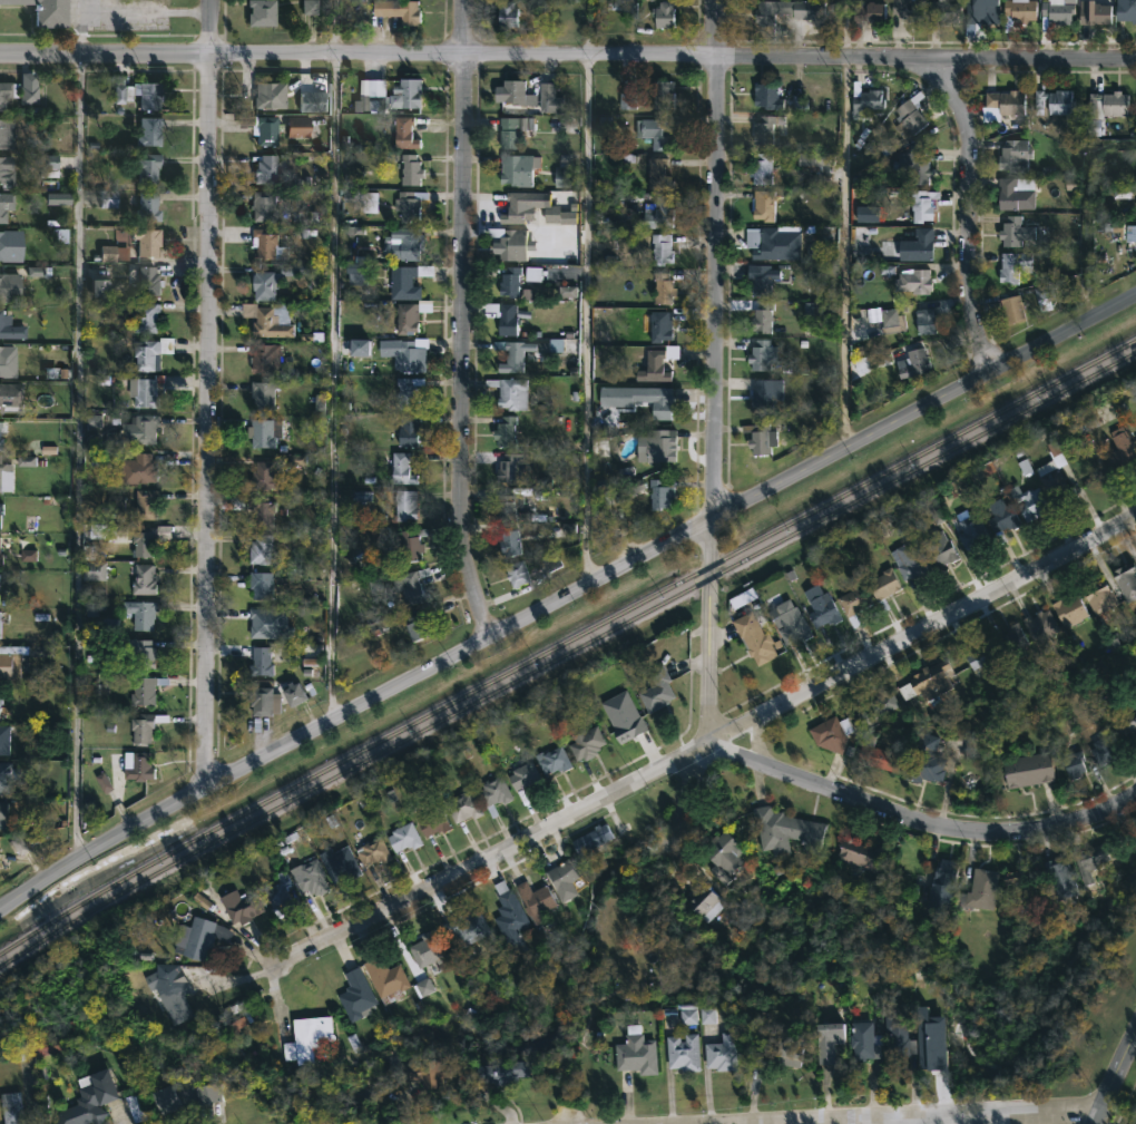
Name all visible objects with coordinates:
building: (624, 8)
road: (147, 9)
building: (908, 9)
building: (1019, 10)
building: (1125, 10)
building: (43, 11)
building: (396, 11)
building: (786, 11)
building: (942, 11)
building: (1057, 11)
building: (258, 12)
building: (868, 12)
building: (1094, 12)
building: (506, 14)
building: (663, 14)
building: (979, 14)
road: (567, 58)
building: (119, 90)
building: (408, 92)
building: (515, 92)
building: (20, 94)
building: (145, 96)
building: (662, 96)
building: (766, 96)
building: (265, 97)
building: (546, 97)
building: (371, 98)
building: (310, 101)
building: (629, 101)
building: (866, 101)
building: (1052, 102)
building: (1003, 104)
building: (1106, 105)
building: (909, 117)
building: (295, 126)
building: (258, 128)
building: (512, 129)
building: (146, 131)
building: (657, 131)
building: (403, 133)
building: (762, 134)
building: (4, 135)
building: (1011, 157)
building: (815, 162)
building: (50, 165)
building: (915, 167)
building: (145, 168)
building: (263, 169)
building: (408, 169)
building: (517, 169)
building: (760, 169)
building: (4, 172)
building: (657, 174)
building: (565, 178)
building: (1015, 194)
building: (111, 201)
road: (968, 204)
building: (4, 205)
building: (408, 205)
building: (763, 205)
building: (920, 205)
building: (519, 206)
building: (144, 207)
building: (262, 207)
building: (658, 212)
road: (845, 225)
building: (1130, 231)
building: (1015, 232)
building: (144, 241)
building: (772, 242)
building: (509, 243)
building: (262, 244)
building: (403, 244)
building: (917, 245)
building: (9, 246)
building: (659, 250)
building: (109, 254)
building: (1012, 266)
building: (355, 273)
building: (760, 278)
building: (143, 280)
building: (268, 282)
building: (404, 282)
building: (508, 282)
building: (912, 282)
building: (8, 287)
building: (662, 289)
building: (102, 290)
road: (586, 292)
building: (1011, 310)
building: (408, 317)
building: (762, 317)
building: (145, 319)
building: (266, 320)
building: (506, 320)
road: (458, 321)
building: (878, 321)
building: (923, 321)
road: (190, 323)
building: (659, 326)
building: (9, 329)
road: (441, 346)
building: (363, 349)
building: (0, 350)
building: (148, 352)
building: (404, 352)
building: (512, 355)
building: (758, 355)
road: (333, 359)
building: (264, 360)
building: (912, 363)
building: (654, 365)
road: (218, 370)
road: (712, 371)
building: (405, 390)
building: (140, 391)
building: (509, 392)
building: (765, 392)
road: (205, 394)
building: (261, 395)
building: (13, 397)
building: (658, 403)
building: (1087, 421)
building: (2, 426)
building: (134, 430)
building: (407, 430)
road: (78, 431)
building: (263, 431)
building: (503, 431)
building: (758, 438)
building: (1135, 438)
building: (0, 442)
building: (655, 447)
building: (1120, 449)
building: (400, 468)
building: (510, 468)
building: (137, 469)
building: (264, 475)
building: (6, 476)
building: (1054, 482)
building: (660, 495)
building: (1028, 501)
building: (144, 504)
building: (403, 505)
building: (506, 505)
building: (0, 507)
building: (259, 510)
building: (1000, 516)
building: (969, 530)
building: (141, 541)
building: (508, 541)
building: (409, 544)
building: (937, 546)
building: (258, 548)
building: (1, 551)
building: (910, 560)
building: (91, 570)
building: (515, 574)
building: (141, 579)
building: (1125, 580)
building: (883, 583)
building: (258, 584)
building: (412, 584)
building: (0, 590)
road: (564, 597)
building: (1098, 597)
building: (852, 602)
building: (820, 606)
building: (1069, 609)
building: (141, 615)
building: (262, 622)
building: (790, 622)
building: (1040, 625)
building: (1, 627)
building: (414, 627)
building: (754, 638)
building: (1010, 639)
railway: (565, 642)
building: (139, 653)
railway: (565, 654)
building: (981, 655)
building: (9, 661)
building: (257, 661)
building: (930, 682)
building: (144, 690)
building: (655, 690)
building: (297, 696)
building: (262, 701)
building: (1134, 702)
building: (878, 706)
building: (1, 707)
building: (621, 717)
building: (1123, 724)
building: (140, 727)
building: (830, 733)
building: (6, 740)
building: (585, 742)
road: (706, 743)
building: (1104, 750)
building: (877, 755)
building: (924, 759)
building: (552, 761)
building: (1073, 764)
building: (137, 766)
building: (1028, 769)
building: (522, 776)
road: (684, 792)
building: (492, 794)
building: (461, 807)
building: (1, 810)
road: (918, 821)
building: (431, 822)
building: (785, 831)
building: (402, 838)
building: (590, 839)
building: (371, 852)
building: (859, 854)
building: (722, 856)
building: (1091, 860)
building: (337, 863)
building: (307, 878)
building: (1059, 878)
building: (561, 879)
building: (940, 887)
building: (981, 888)
building: (1018, 889)
building: (277, 895)
building: (533, 902)
building: (705, 902)
building: (237, 908)
building: (508, 916)
building: (1041, 918)
building: (464, 929)
building: (198, 937)
building: (424, 949)
building: (384, 979)
building: (169, 991)
building: (353, 995)
building: (300, 1037)
building: (826, 1040)
building: (863, 1043)
building: (901, 1043)
building: (42, 1046)
building: (787, 1049)
building: (635, 1053)
building: (682, 1053)
building: (721, 1053)
building: (499, 1071)
building: (423, 1073)
road: (1117, 1074)
building: (182, 1095)
building: (87, 1099)
building: (9, 1108)
building: (133, 1108)
road: (1002, 1112)
road: (1089, 1116)
road: (1096, 1116)
road: (829, 1120)
road: (907, 1120)
road: (910, 1120)
park: (1047, 1123)

